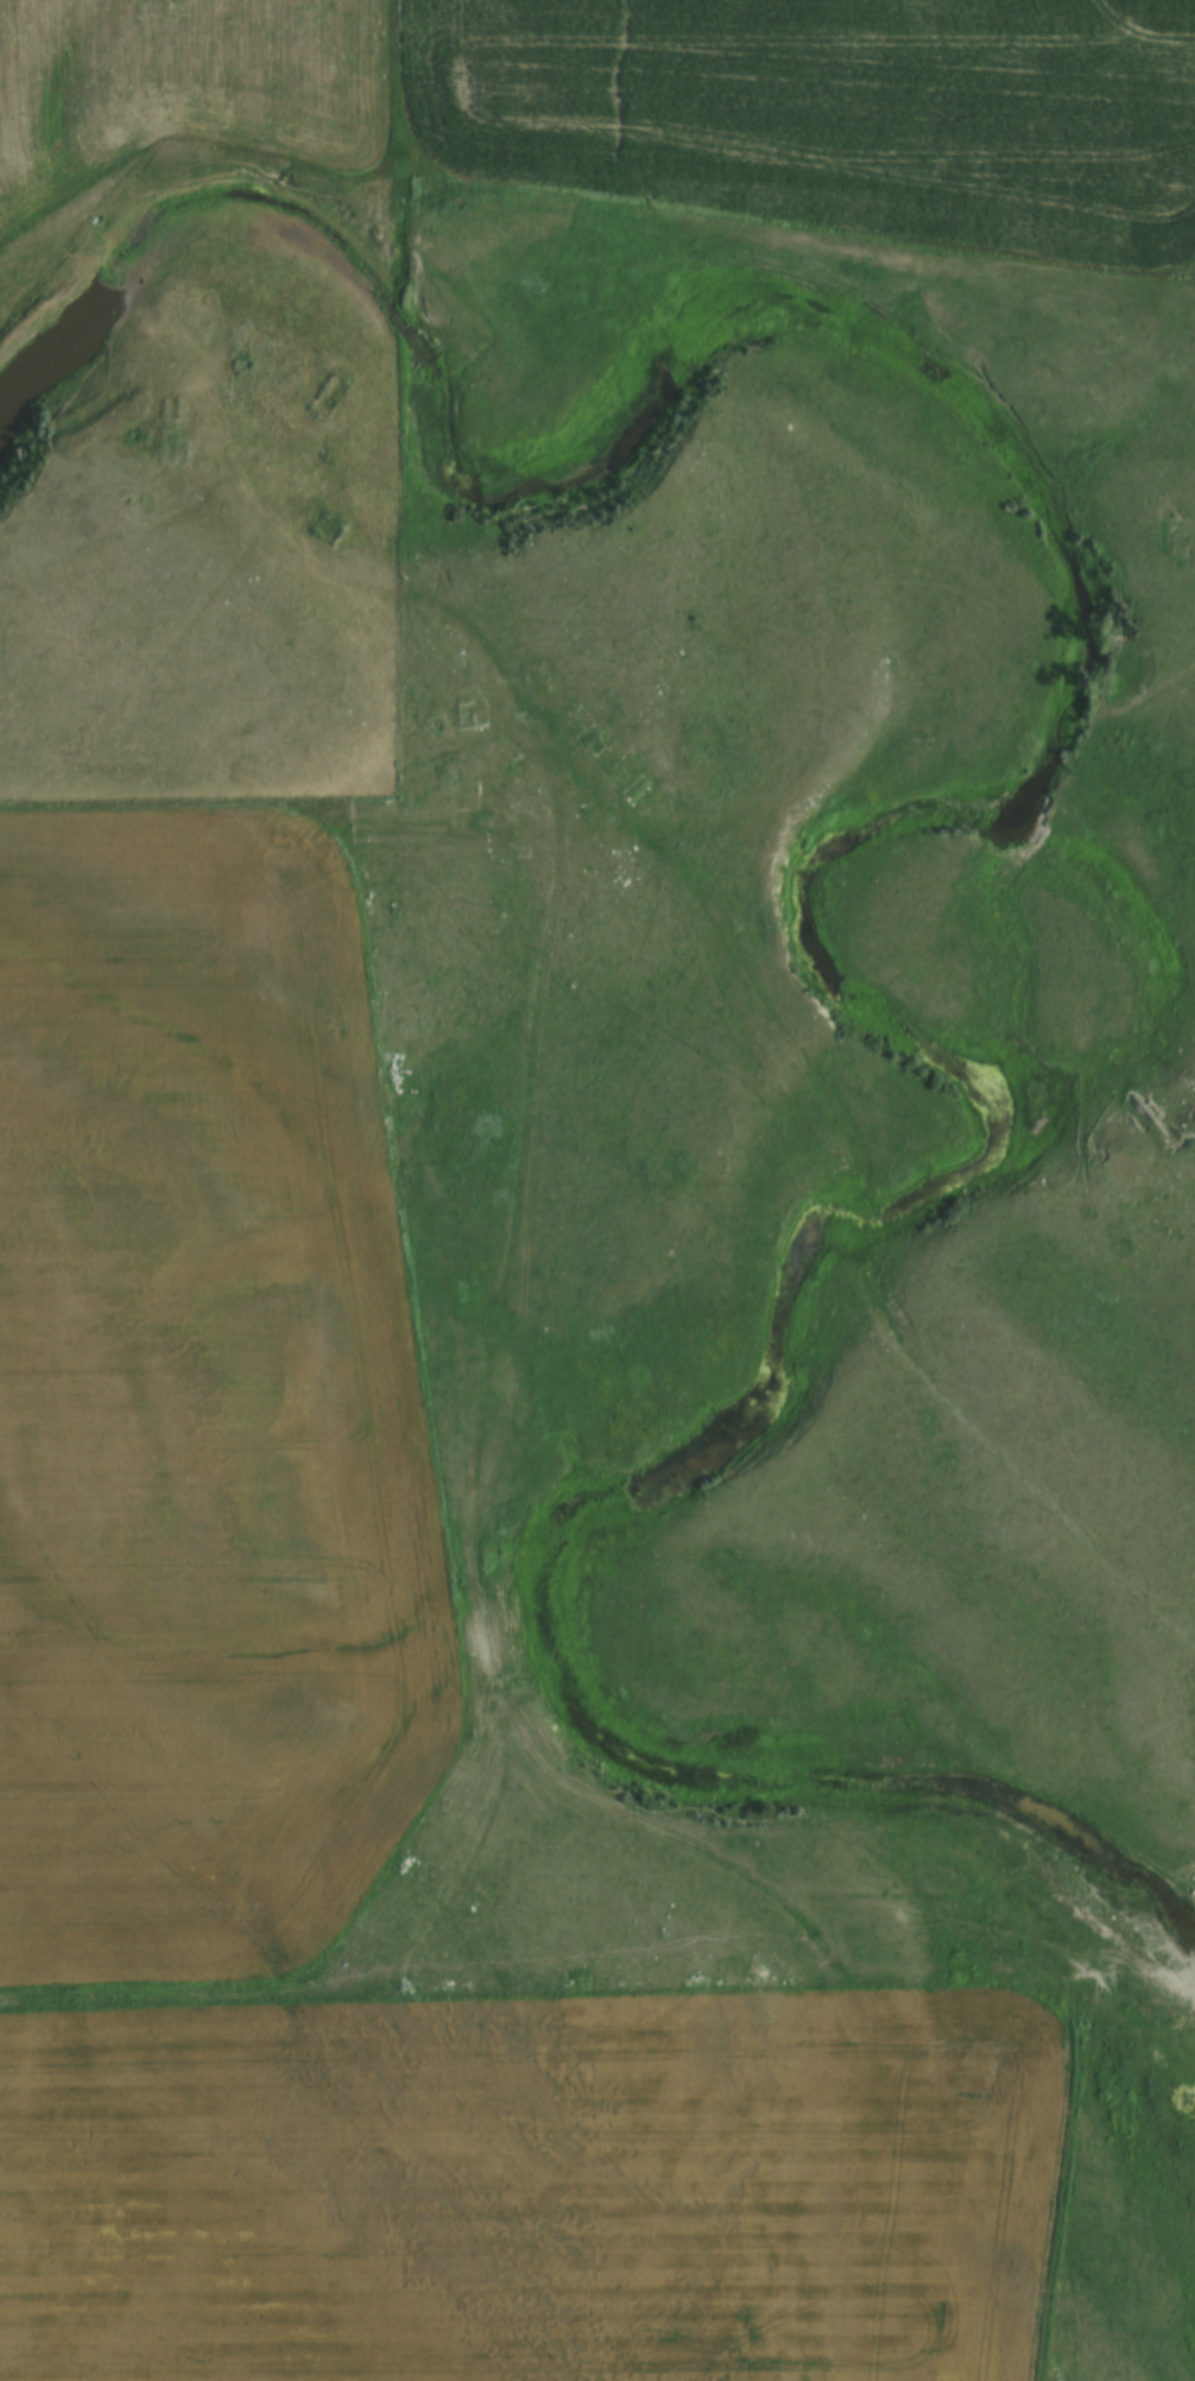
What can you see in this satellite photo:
road: (232, 146)

